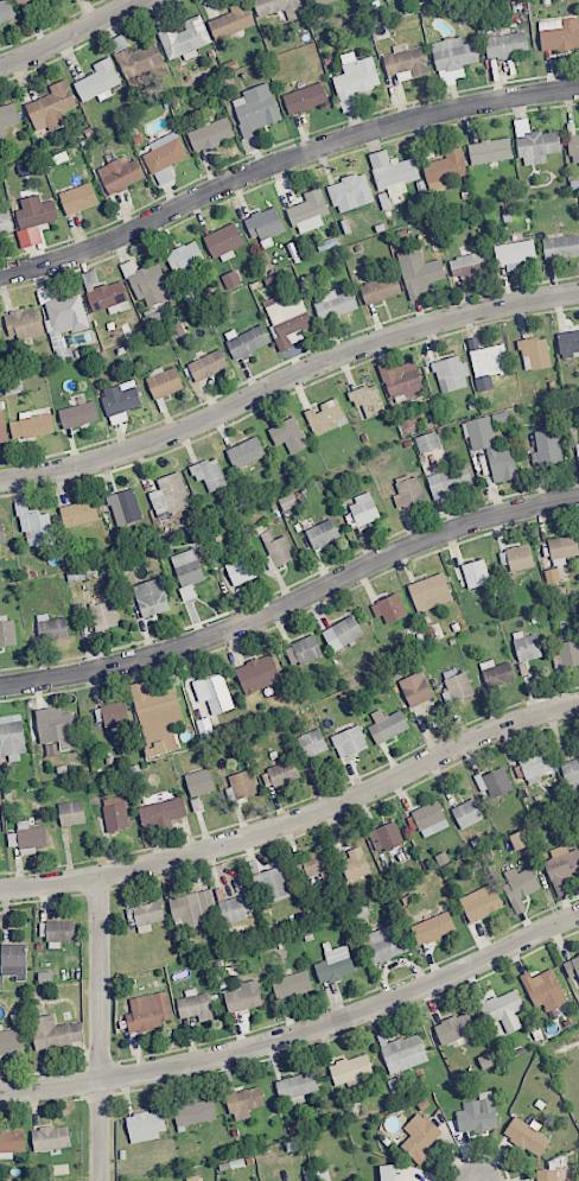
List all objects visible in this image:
building: (25, 2)
building: (316, 2)
building: (279, 7)
building: (6, 11)
building: (231, 20)
road: (70, 33)
building: (559, 33)
building: (185, 39)
building: (505, 44)
building: (452, 58)
building: (405, 61)
building: (140, 62)
building: (355, 80)
building: (98, 81)
building: (305, 99)
building: (51, 106)
building: (255, 109)
building: (7, 116)
building: (210, 134)
building: (535, 144)
building: (573, 148)
building: (490, 151)
building: (165, 157)
road: (281, 161)
building: (445, 169)
building: (120, 173)
building: (395, 176)
building: (350, 192)
building: (78, 198)
building: (308, 211)
building: (36, 214)
building: (5, 223)
building: (265, 223)
building: (223, 241)
building: (561, 247)
building: (513, 256)
building: (185, 258)
building: (470, 263)
building: (420, 275)
building: (230, 280)
building: (149, 285)
building: (380, 290)
building: (108, 298)
building: (335, 304)
building: (287, 322)
building: (24, 323)
building: (64, 323)
building: (176, 330)
building: (568, 343)
building: (535, 353)
building: (208, 364)
building: (489, 364)
building: (451, 374)
building: (401, 379)
building: (164, 381)
road: (288, 382)
building: (121, 398)
building: (367, 401)
building: (78, 414)
building: (325, 417)
building: (2, 425)
building: (32, 425)
building: (288, 434)
building: (427, 442)
building: (547, 447)
building: (490, 449)
building: (246, 452)
building: (209, 474)
building: (450, 478)
building: (408, 491)
building: (170, 495)
building: (125, 504)
building: (363, 509)
building: (78, 513)
building: (34, 526)
building: (1, 533)
building: (323, 534)
building: (562, 547)
building: (278, 552)
building: (518, 558)
building: (240, 570)
building: (187, 571)
building: (476, 573)
building: (432, 589)
building: (151, 597)
road: (292, 601)
building: (388, 609)
building: (103, 615)
building: (52, 628)
building: (7, 631)
building: (343, 633)
building: (527, 646)
building: (304, 649)
building: (570, 653)
building: (257, 673)
building: (496, 675)
building: (458, 686)
building: (415, 690)
building: (214, 693)
building: (109, 715)
building: (157, 717)
building: (387, 725)
building: (56, 728)
building: (12, 736)
building: (349, 742)
building: (312, 743)
building: (535, 767)
building: (571, 773)
building: (280, 774)
building: (198, 782)
building: (494, 782)
building: (242, 783)
building: (71, 813)
building: (115, 813)
building: (161, 813)
building: (466, 813)
road: (295, 817)
building: (430, 819)
building: (30, 836)
building: (384, 837)
building: (520, 839)
building: (317, 862)
building: (355, 864)
building: (561, 866)
building: (520, 883)
building: (272, 884)
building: (481, 902)
building: (193, 908)
building: (234, 909)
building: (433, 927)
building: (57, 931)
building: (384, 944)
building: (14, 960)
building: (335, 965)
building: (573, 970)
building: (292, 984)
building: (543, 990)
building: (243, 996)
building: (195, 1005)
building: (504, 1010)
building: (148, 1011)
road: (100, 1028)
building: (454, 1028)
building: (55, 1033)
road: (298, 1033)
building: (9, 1042)
building: (403, 1053)
building: (350, 1069)
building: (297, 1085)
building: (244, 1103)
building: (195, 1112)
building: (477, 1113)
building: (146, 1125)
building: (420, 1136)
building: (527, 1136)
building: (51, 1138)
building: (12, 1141)
building: (546, 1175)

